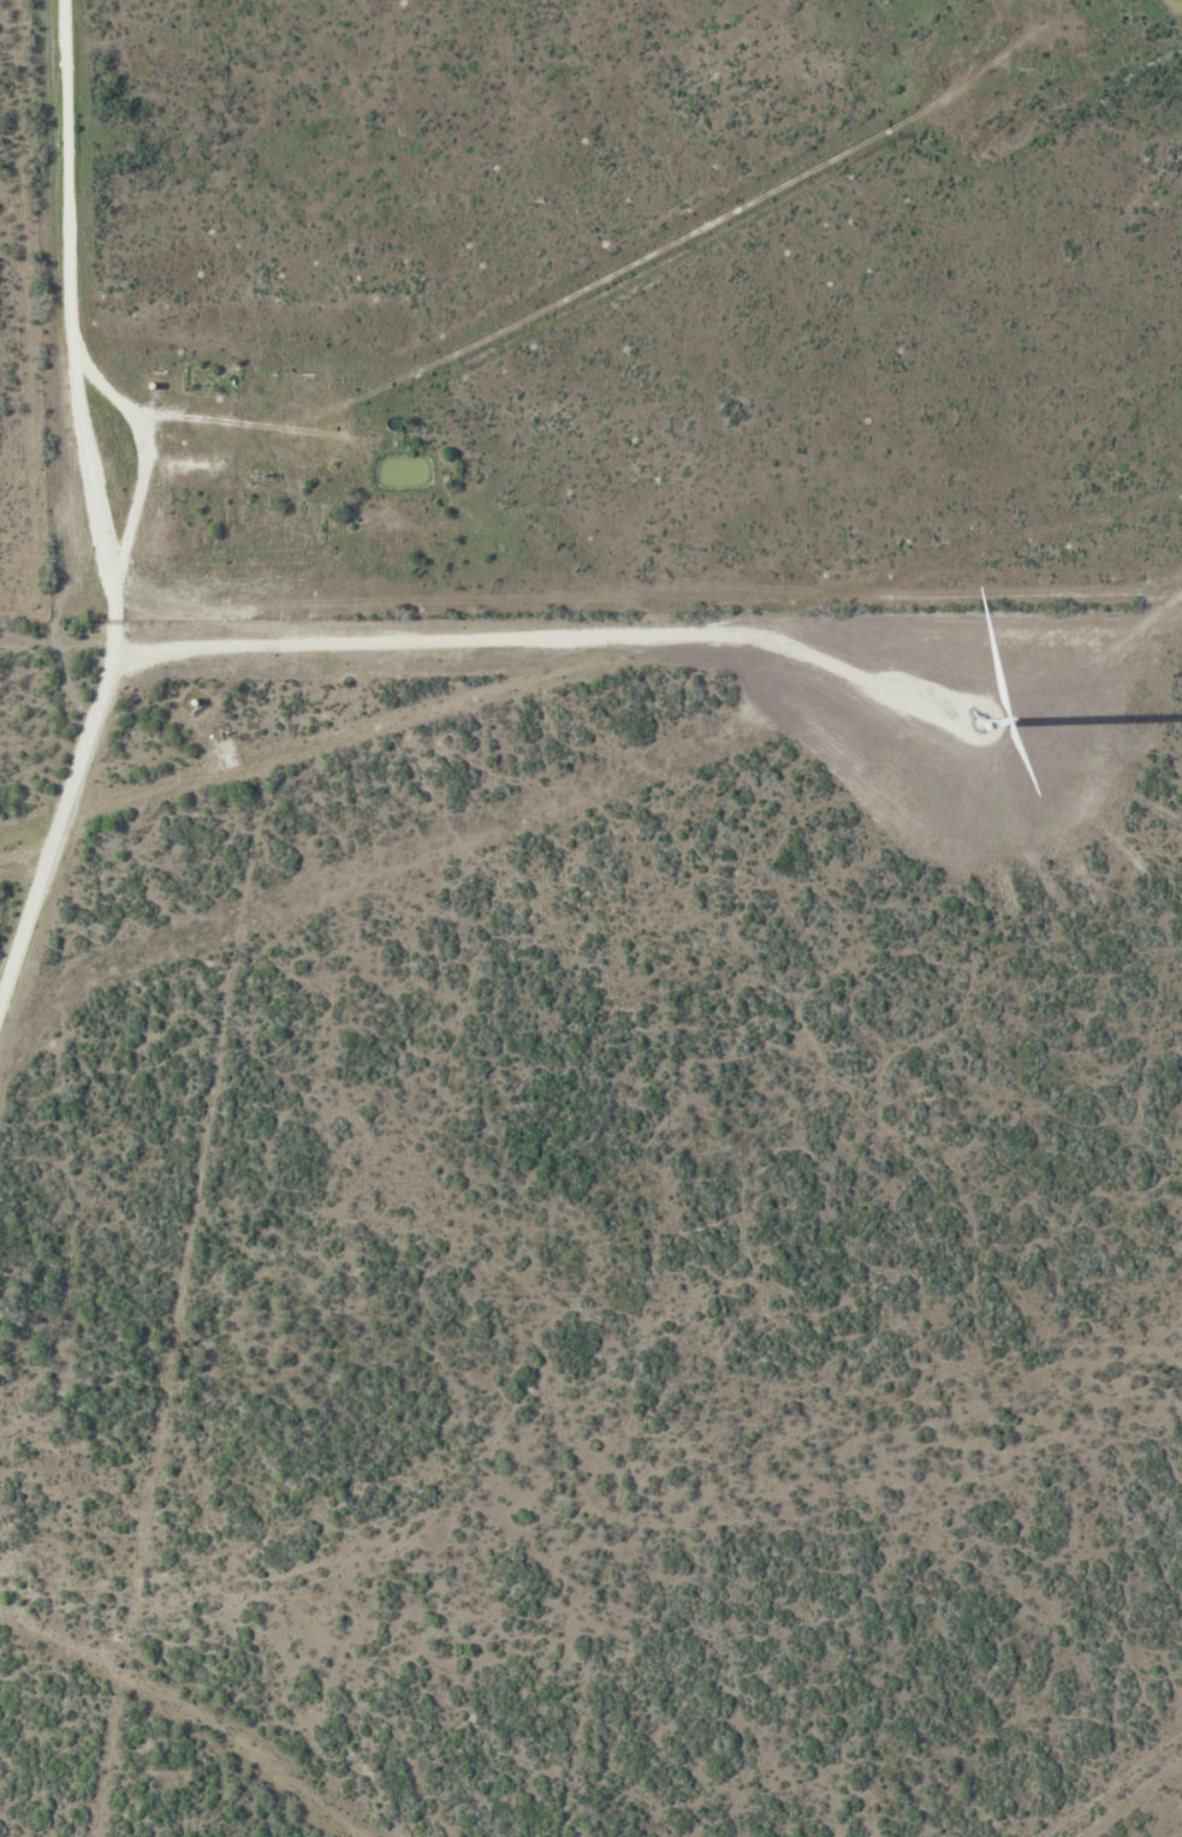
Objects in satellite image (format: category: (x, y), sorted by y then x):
wind turbine: (984, 730)

